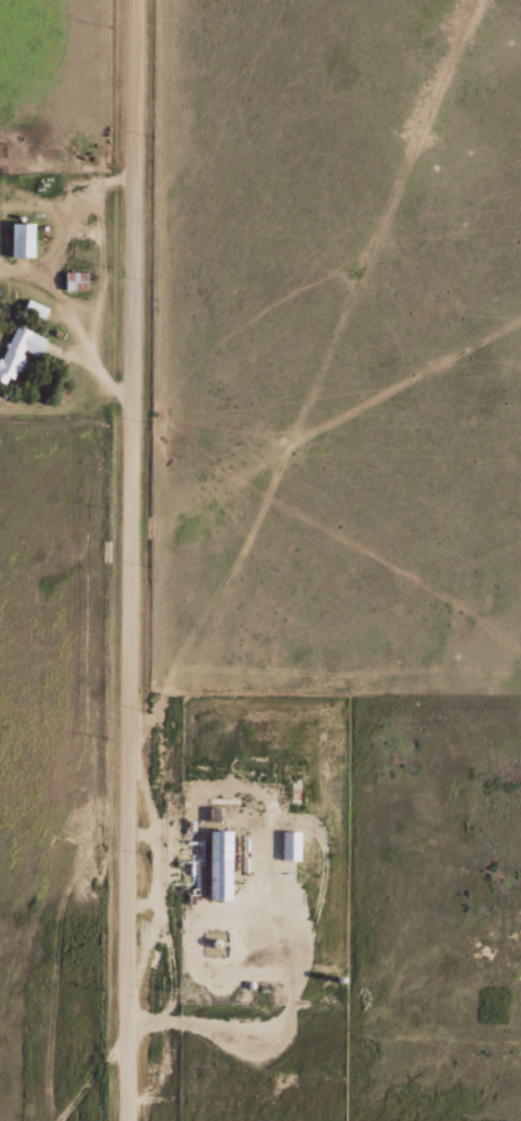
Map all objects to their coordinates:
building: (17, 351)
road: (132, 560)
building: (287, 845)

